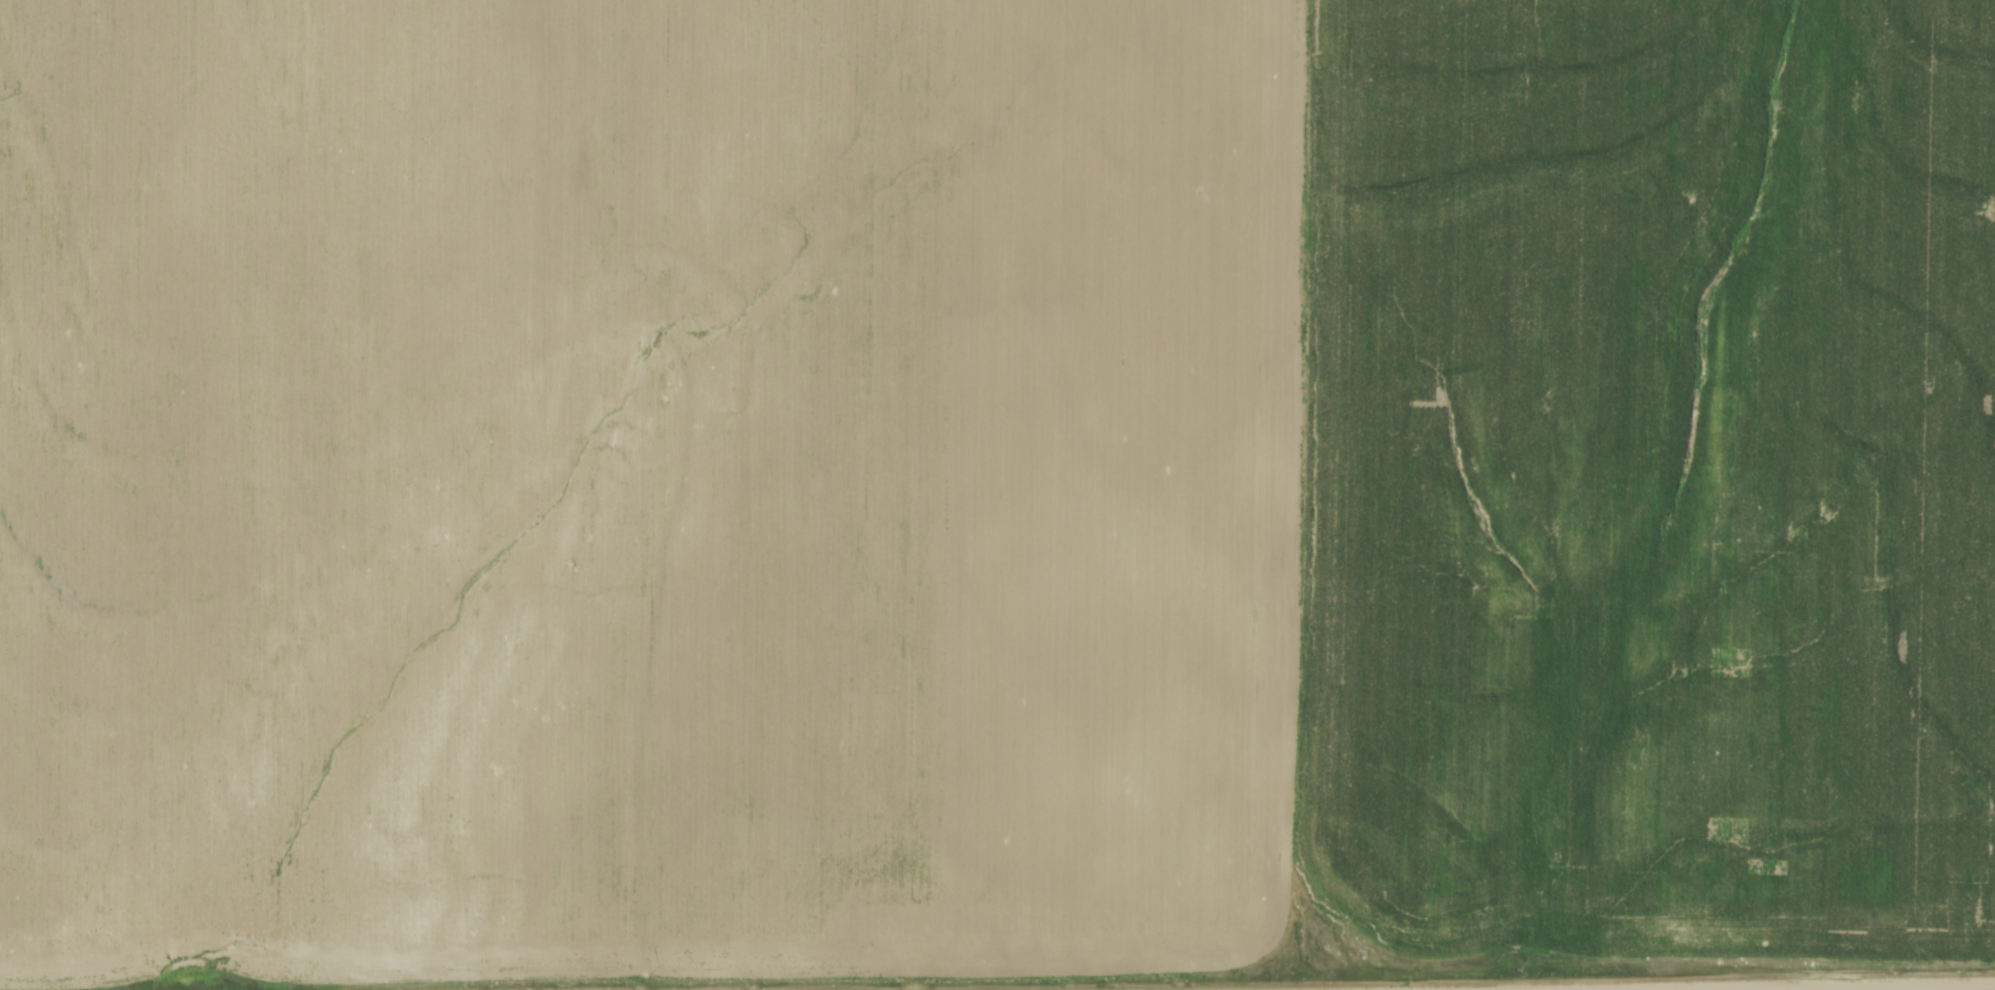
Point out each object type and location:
crop: (643, 482)
road: (1706, 985)

